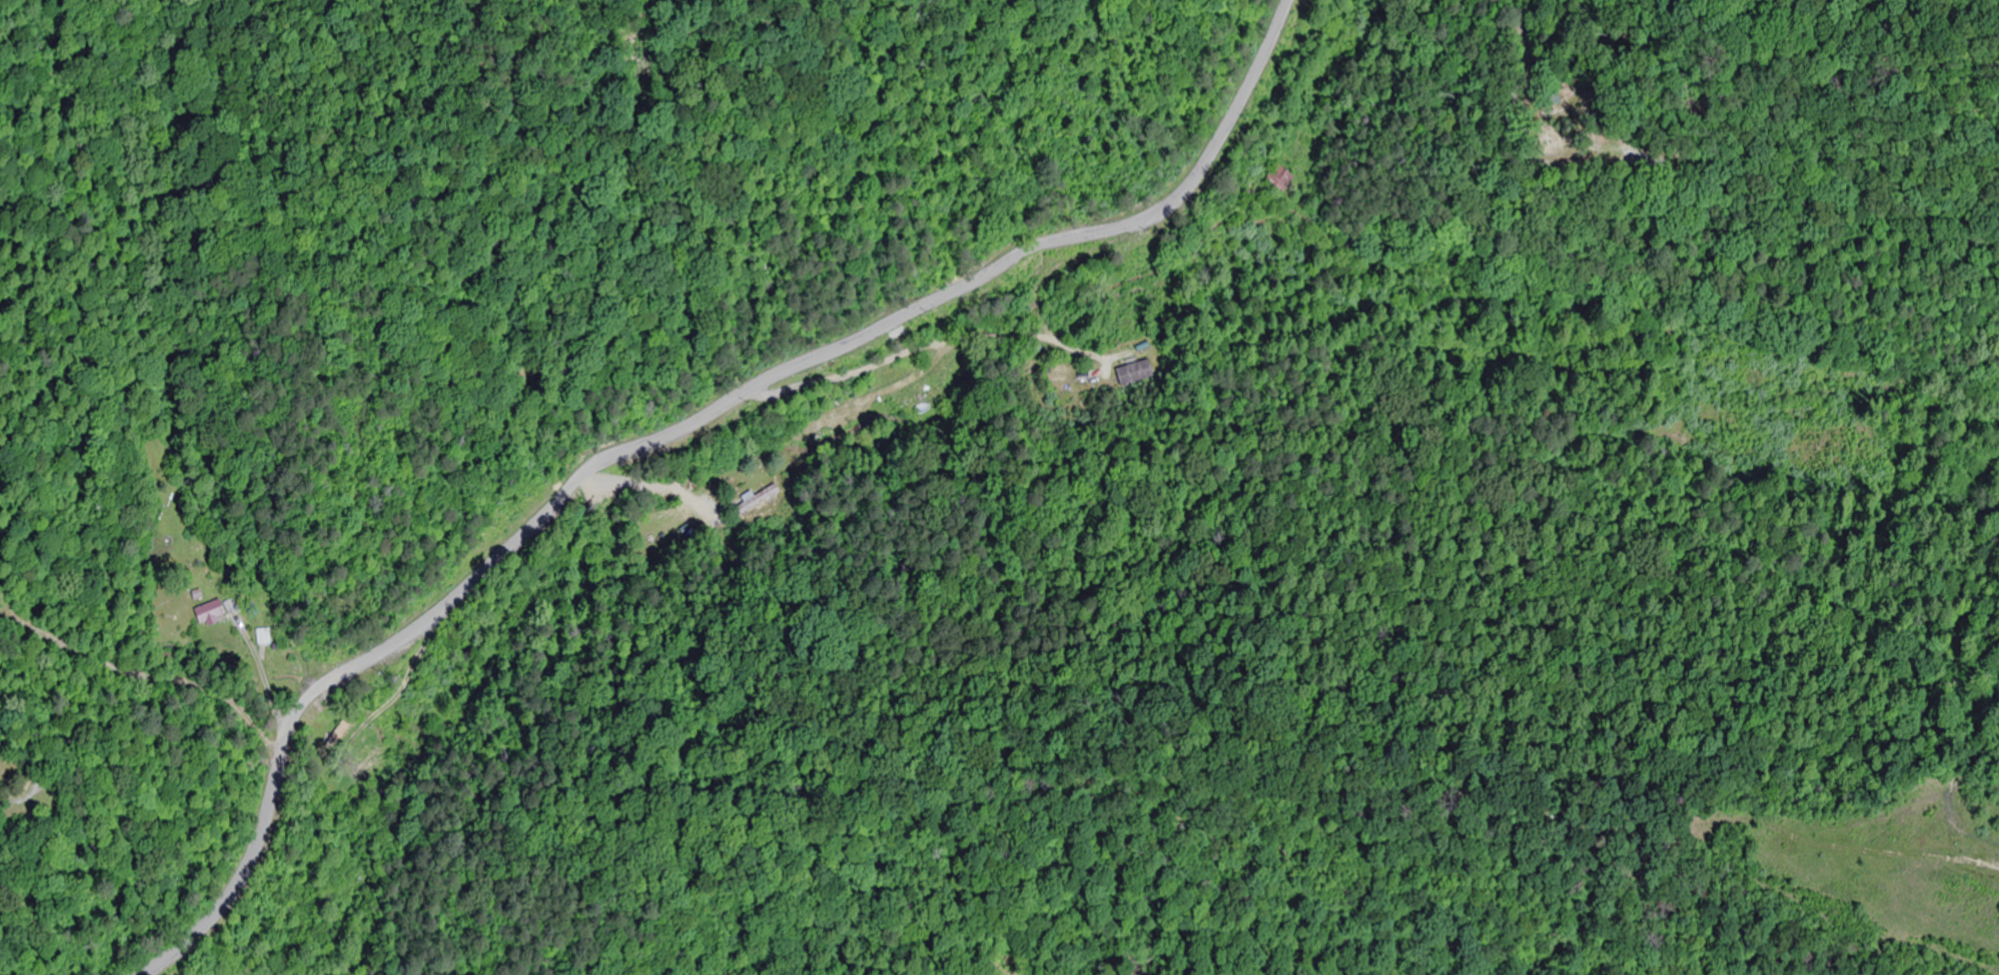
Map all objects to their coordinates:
park: (1563, 118)
building: (1282, 177)
building: (1134, 373)
road: (710, 377)
building: (911, 397)
building: (757, 499)
building: (215, 613)
building: (264, 637)
building: (340, 736)
park: (12, 774)
road: (213, 937)

